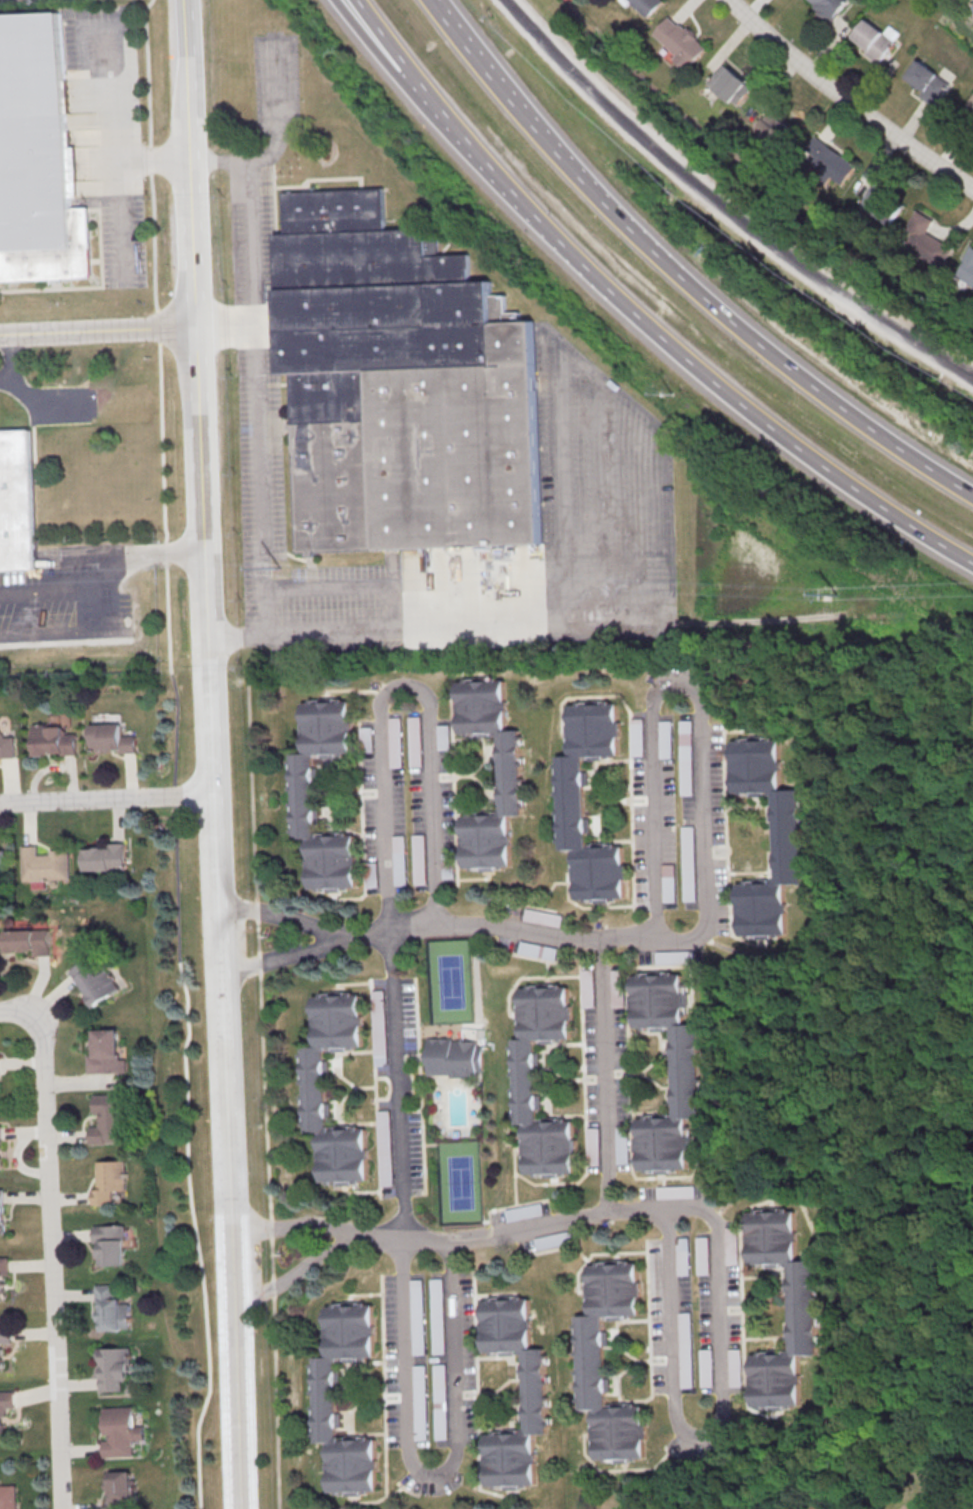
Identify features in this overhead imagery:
building: (642, 6)
building: (971, 6)
building: (826, 9)
building: (875, 39)
building: (678, 41)
road: (393, 65)
building: (927, 82)
building: (729, 83)
road: (848, 99)
road: (542, 136)
building: (39, 155)
building: (828, 159)
building: (882, 203)
road: (725, 204)
building: (926, 240)
building: (966, 267)
road: (639, 312)
road: (224, 324)
road: (97, 328)
road: (10, 356)
road: (811, 387)
building: (405, 388)
road: (254, 397)
road: (36, 404)
building: (18, 502)
road: (110, 557)
power tower: (284, 568)
road: (345, 585)
road: (45, 591)
power tower: (830, 596)
road: (397, 629)
road: (47, 634)
road: (403, 688)
road: (698, 695)
building: (686, 735)
building: (111, 737)
building: (638, 737)
building: (54, 739)
building: (666, 739)
building: (6, 744)
road: (175, 754)
road: (211, 754)
building: (510, 774)
building: (304, 794)
road: (106, 798)
building: (571, 802)
building: (788, 838)
building: (107, 856)
building: (3, 861)
building: (46, 863)
building: (669, 882)
road: (918, 901)
building: (544, 917)
road: (288, 918)
road: (372, 928)
road: (521, 928)
building: (30, 941)
building: (538, 950)
road: (289, 954)
building: (96, 980)
park: (452, 984)
building: (588, 987)
building: (617, 990)
road: (16, 1011)
building: (107, 1053)
building: (454, 1058)
road: (263, 1071)
building: (683, 1073)
road: (605, 1075)
building: (522, 1080)
building: (314, 1089)
building: (110, 1119)
building: (622, 1144)
building: (593, 1146)
building: (1, 1147)
building: (110, 1182)
park: (461, 1185)
road: (874, 1188)
building: (2, 1211)
building: (524, 1211)
road: (662, 1212)
road: (292, 1225)
road: (478, 1235)
building: (111, 1242)
road: (51, 1262)
building: (3, 1272)
road: (292, 1273)
building: (113, 1308)
building: (803, 1310)
road: (401, 1331)
building: (5, 1334)
road: (914, 1335)
building: (591, 1360)
building: (0, 1363)
building: (115, 1367)
building: (707, 1367)
building: (737, 1367)
building: (532, 1393)
building: (325, 1398)
road: (850, 1411)
building: (2, 1423)
building: (121, 1430)
road: (697, 1439)
building: (121, 1490)
building: (8, 1497)

